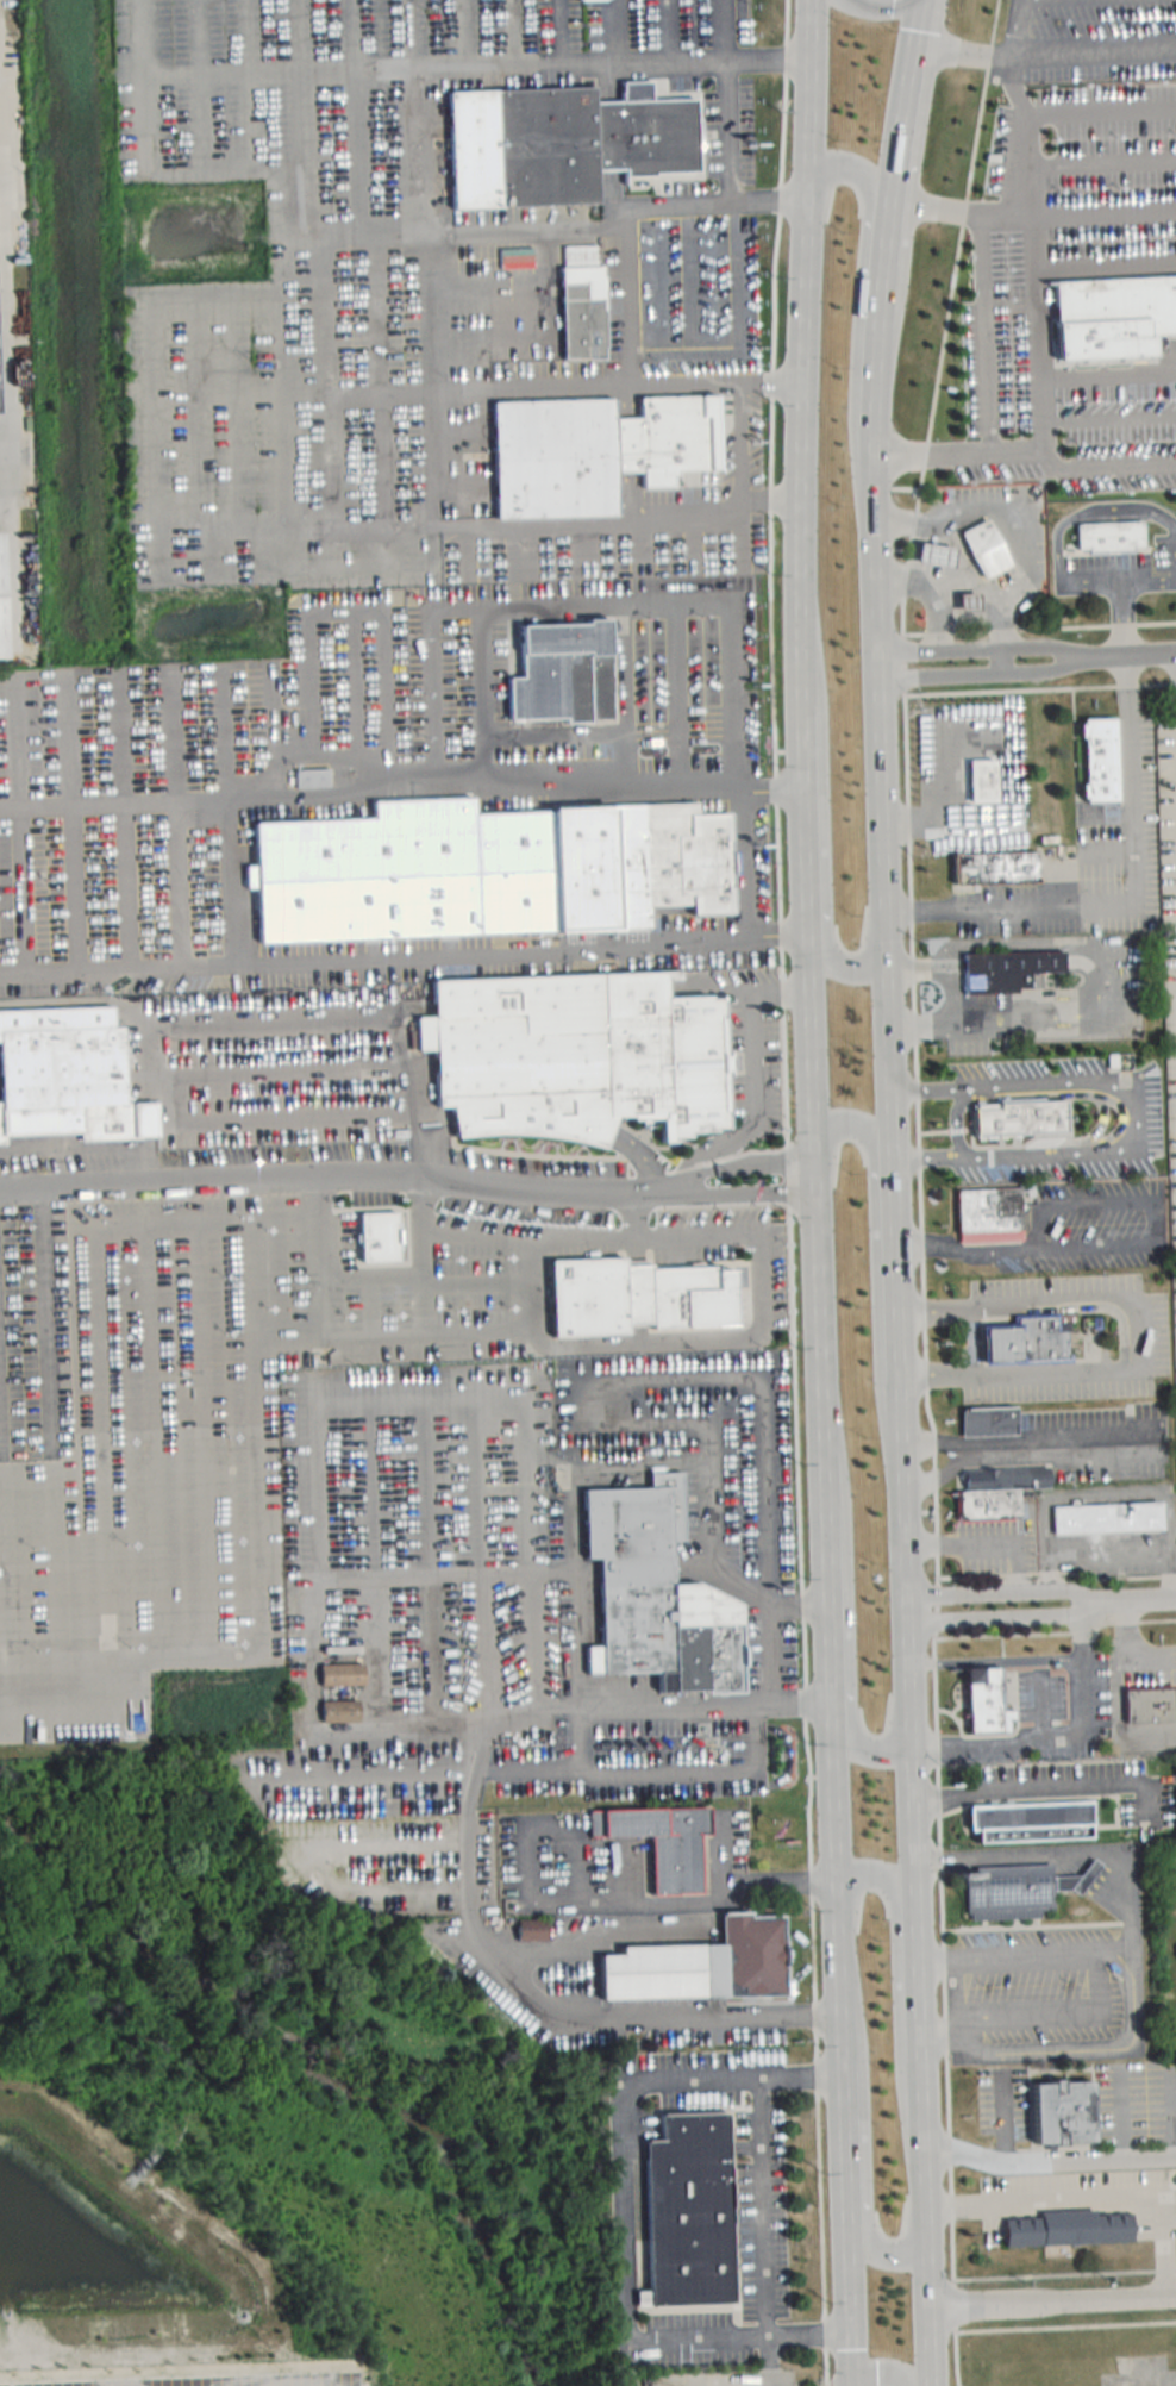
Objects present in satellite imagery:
building: (592, 0)
traffic signals: (893, 0)
traffic signals: (914, 27)
road: (1019, 27)
road: (514, 30)
road: (565, 31)
road: (670, 31)
road: (456, 32)
road: (620, 32)
road: (963, 51)
road: (1096, 51)
road: (768, 58)
road: (488, 62)
road: (1013, 79)
road: (251, 83)
road: (200, 85)
road: (902, 99)
road: (1099, 107)
road: (406, 115)
road: (355, 117)
road: (145, 140)
building: (561, 140)
building: (1127, 142)
road: (609, 143)
road: (301, 144)
road: (1101, 162)
road: (853, 165)
road: (730, 175)
road: (769, 198)
road: (670, 208)
road: (959, 208)
road: (1105, 211)
road: (461, 230)
building: (1107, 261)
road: (1106, 263)
road: (488, 276)
road: (1036, 276)
road: (226, 292)
road: (803, 295)
road: (878, 296)
road: (626, 298)
road: (684, 308)
building: (582, 310)
building: (1112, 314)
road: (946, 317)
road: (519, 318)
road: (5, 329)
road: (986, 332)
road: (712, 351)
road: (1108, 374)
road: (427, 379)
road: (781, 380)
road: (376, 381)
road: (544, 389)
road: (327, 401)
road: (1108, 417)
road: (458, 430)
road: (148, 433)
road: (188, 433)
road: (232, 433)
building: (593, 451)
road: (623, 452)
road: (996, 452)
road: (634, 454)
road: (911, 454)
road: (872, 456)
road: (1106, 464)
road: (742, 473)
road: (462, 485)
road: (881, 486)
road: (903, 487)
road: (770, 496)
road: (1112, 516)
road: (1006, 519)
road: (393, 529)
building: (1105, 537)
road: (692, 543)
road: (642, 544)
road: (589, 546)
building: (981, 546)
road: (540, 548)
road: (511, 549)
road: (467, 550)
road: (957, 550)
road: (414, 552)
road: (365, 554)
building: (926, 554)
road: (319, 555)
road: (288, 556)
road: (968, 585)
road: (1089, 585)
road: (932, 591)
road: (1124, 596)
building: (2, 601)
road: (580, 602)
building: (962, 602)
road: (902, 647)
road: (1126, 654)
road: (1076, 656)
road: (1001, 658)
road: (902, 662)
road: (306, 666)
building: (563, 670)
road: (1175, 672)
road: (903, 676)
road: (383, 683)
road: (352, 685)
road: (731, 687)
road: (676, 689)
road: (625, 691)
road: (481, 697)
road: (434, 699)
road: (275, 726)
road: (555, 732)
road: (778, 750)
road: (792, 750)
road: (364, 758)
building: (1094, 760)
road: (800, 762)
building: (313, 779)
building: (977, 781)
road: (738, 785)
road: (506, 787)
road: (772, 789)
road: (138, 800)
road: (226, 811)
road: (173, 812)
road: (70, 816)
road: (123, 816)
road: (21, 819)
road: (882, 832)
road: (745, 862)
building: (476, 870)
building: (989, 870)
road: (1128, 900)
road: (787, 931)
road: (384, 956)
road: (838, 963)
building: (1001, 970)
road: (793, 989)
road: (598, 991)
road: (952, 999)
road: (274, 1017)
building: (574, 1051)
road: (275, 1069)
building: (65, 1073)
road: (149, 1073)
road: (402, 1075)
road: (753, 1089)
road: (1132, 1114)
road: (289, 1117)
building: (997, 1119)
road: (855, 1120)
road: (533, 1123)
road: (917, 1136)
road: (813, 1158)
road: (344, 1173)
road: (689, 1181)
road: (787, 1193)
road: (636, 1210)
building: (984, 1216)
road: (161, 1224)
building: (376, 1232)
road: (1017, 1250)
road: (320, 1254)
road: (421, 1254)
road: (371, 1274)
road: (758, 1276)
road: (481, 1281)
building: (633, 1294)
road: (371, 1305)
road: (932, 1307)
road: (897, 1318)
road: (1137, 1329)
road: (396, 1333)
road: (969, 1337)
building: (1027, 1342)
road: (934, 1373)
road: (425, 1395)
road: (708, 1419)
building: (989, 1420)
road: (256, 1435)
road: (764, 1435)
road: (1020, 1436)
road: (202, 1437)
road: (151, 1438)
road: (51, 1450)
road: (100, 1453)
road: (1024, 1459)
road: (592, 1469)
road: (432, 1485)
road: (383, 1486)
building: (997, 1492)
road: (1112, 1494)
road: (926, 1509)
road: (911, 1510)
building: (1108, 1518)
road: (826, 1542)
road: (983, 1542)
road: (531, 1549)
road: (1107, 1553)
road: (487, 1554)
road: (326, 1567)
road: (683, 1569)
road: (1056, 1569)
road: (449, 1573)
road: (5, 1576)
building: (655, 1591)
road: (937, 1593)
road: (1090, 1601)
road: (1133, 1601)
road: (807, 1603)
road: (936, 1606)
road: (933, 1619)
road: (1141, 1619)
road: (1088, 1625)
road: (1084, 1629)
road: (1001, 1632)
road: (575, 1638)
road: (413, 1650)
road: (192, 1651)
road: (370, 1651)
road: (994, 1659)
building: (342, 1670)
road: (908, 1695)
road: (799, 1700)
building: (987, 1701)
building: (1150, 1705)
building: (339, 1707)
road: (540, 1707)
road: (70, 1713)
road: (576, 1737)
road: (1038, 1742)
road: (857, 1744)
road: (532, 1768)
road: (813, 1774)
road: (824, 1774)
road: (1045, 1787)
road: (832, 1788)
building: (1037, 1822)
building: (663, 1841)
road: (720, 1845)
road: (283, 1856)
road: (881, 1873)
road: (580, 1878)
road: (777, 1879)
road: (939, 1880)
building: (1083, 1881)
road: (523, 1882)
building: (1015, 1892)
road: (837, 1906)
road: (1132, 1928)
building: (530, 1930)
road: (596, 1937)
road: (1115, 1949)
building: (705, 1963)
road: (513, 1979)
road: (1097, 1985)
parking lot: (1044, 1991)
road: (811, 2013)
road: (919, 2045)
road: (842, 2078)
parking lot: (1002, 2100)
parking lot: (1136, 2100)
road: (1158, 2107)
road: (1120, 2109)
building: (1062, 2111)
road: (1002, 2115)
road: (947, 2148)
road: (1049, 2160)
road: (621, 2168)
road: (1094, 2198)
road: (763, 2203)
building: (690, 2210)
road: (950, 2223)
building: (1065, 2228)
road: (881, 2250)
road: (1164, 2269)
road: (1052, 2273)
road: (927, 2286)
road: (1052, 2299)
road: (952, 2303)
road: (847, 2304)
road: (1064, 2324)
road: (768, 2343)
traffic signals: (850, 2347)
road: (953, 2355)
traffic signals: (876, 2372)
road: (884, 2372)
road: (771, 2382)

